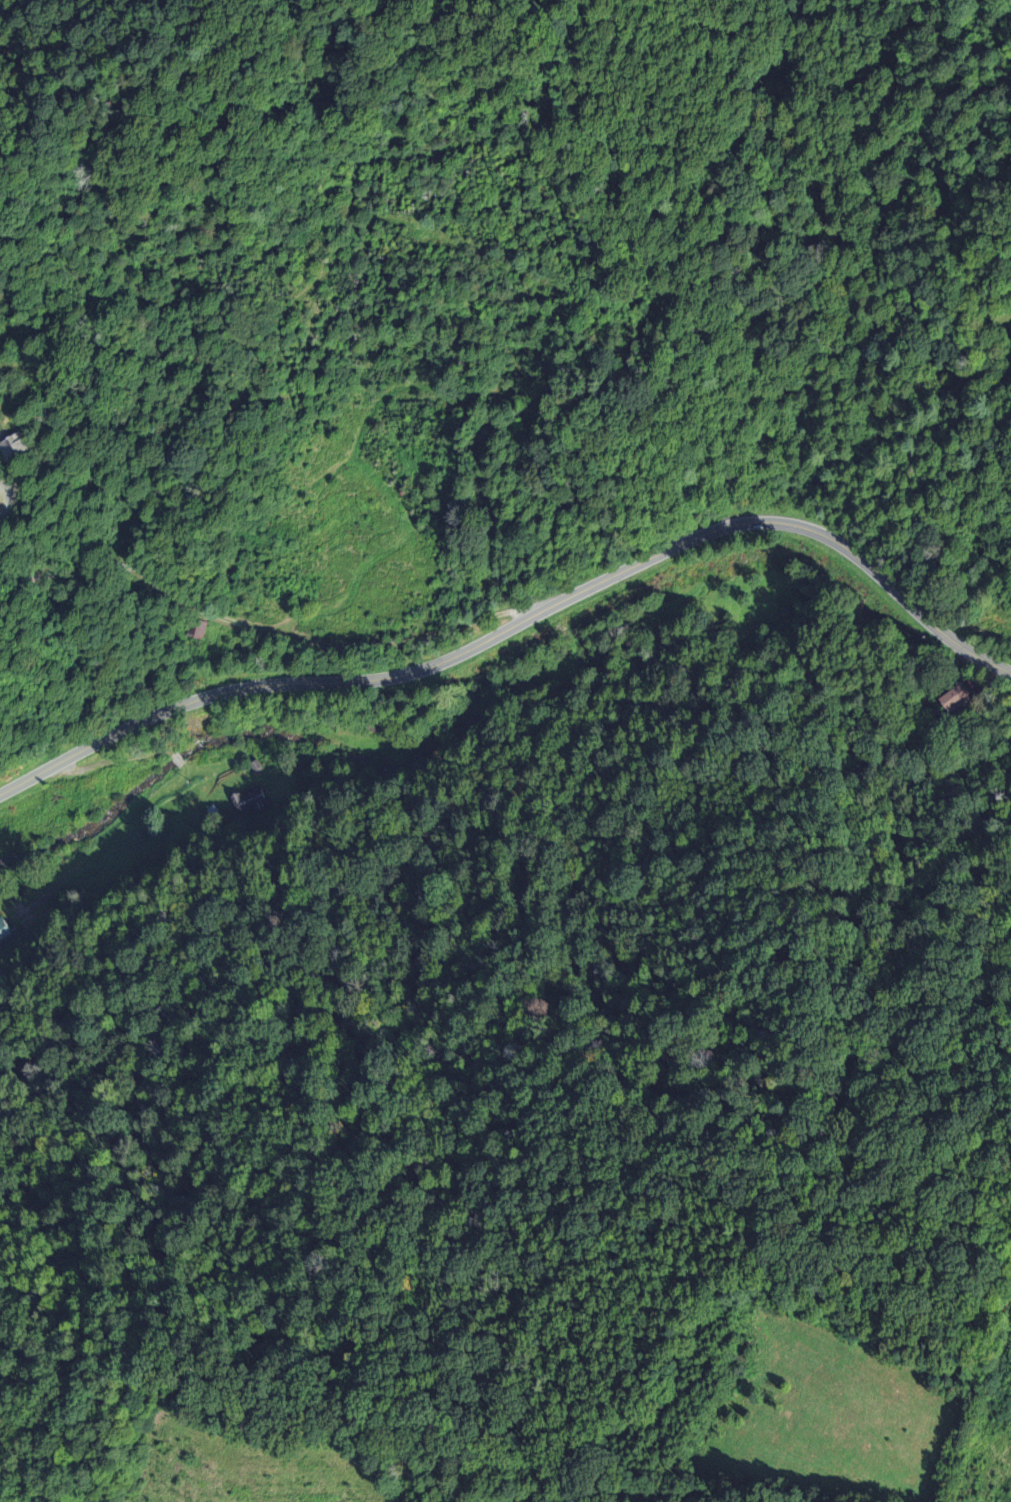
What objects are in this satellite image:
building: (15, 448)
road: (5, 497)
road: (523, 622)
road: (257, 629)
building: (197, 630)
building: (962, 704)

